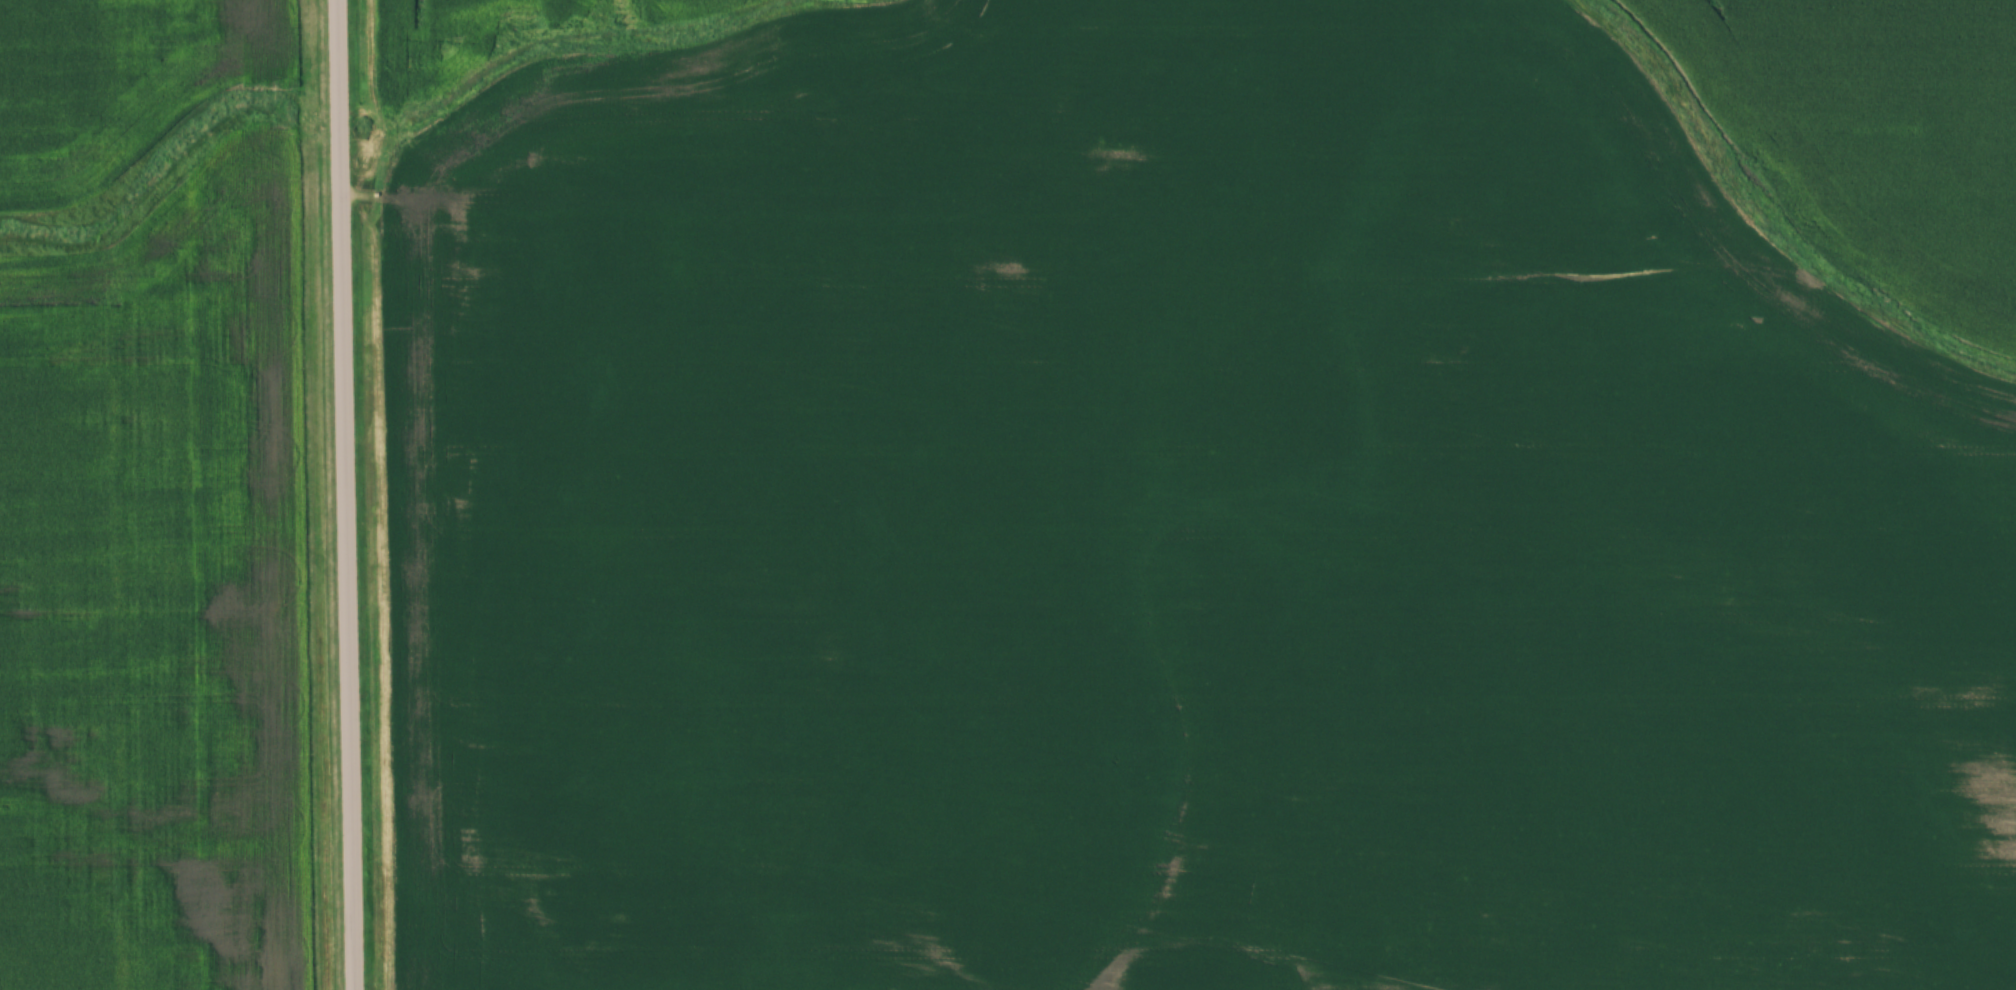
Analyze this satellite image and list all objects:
road: (342, 495)

